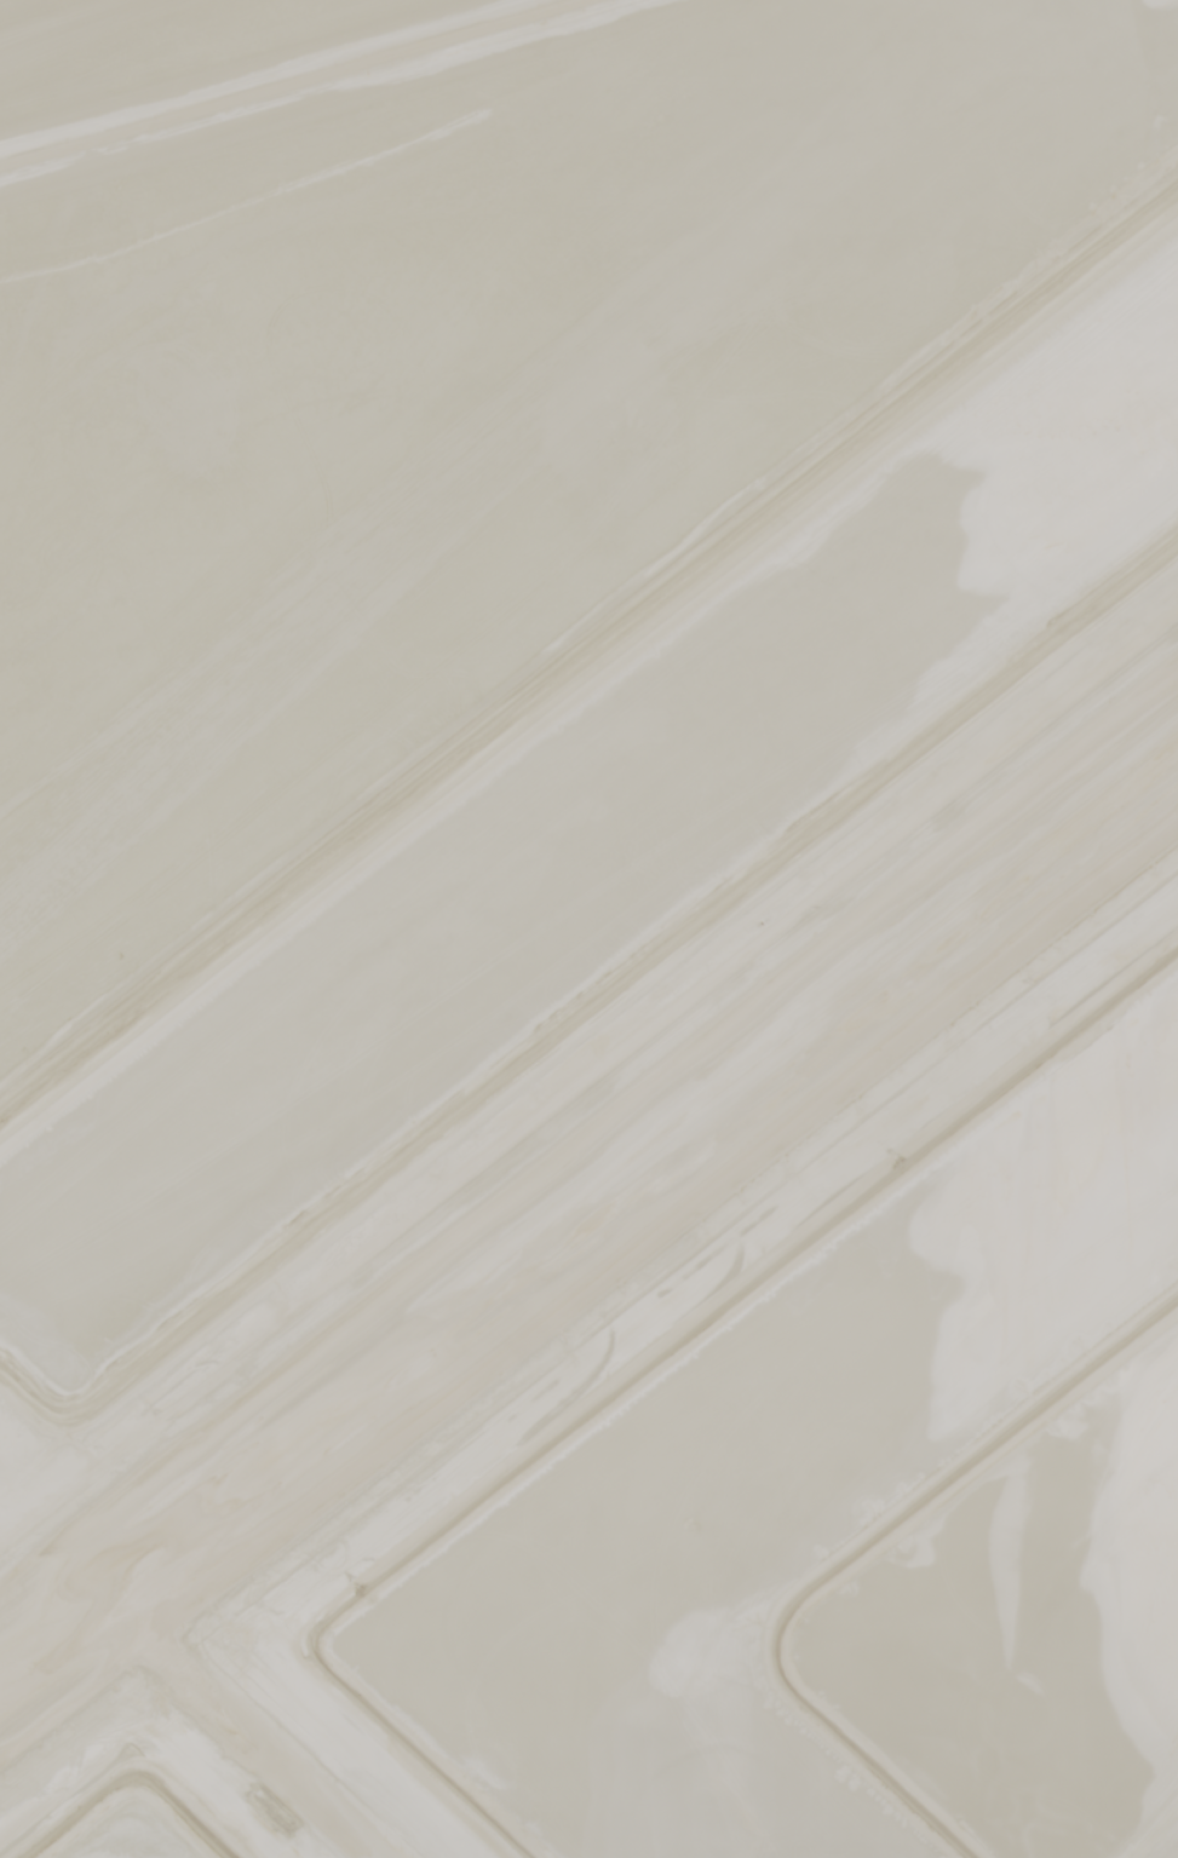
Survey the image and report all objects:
airport: (588, 928)
airport runway: (588, 1209)
airport taxiway: (240, 1726)

